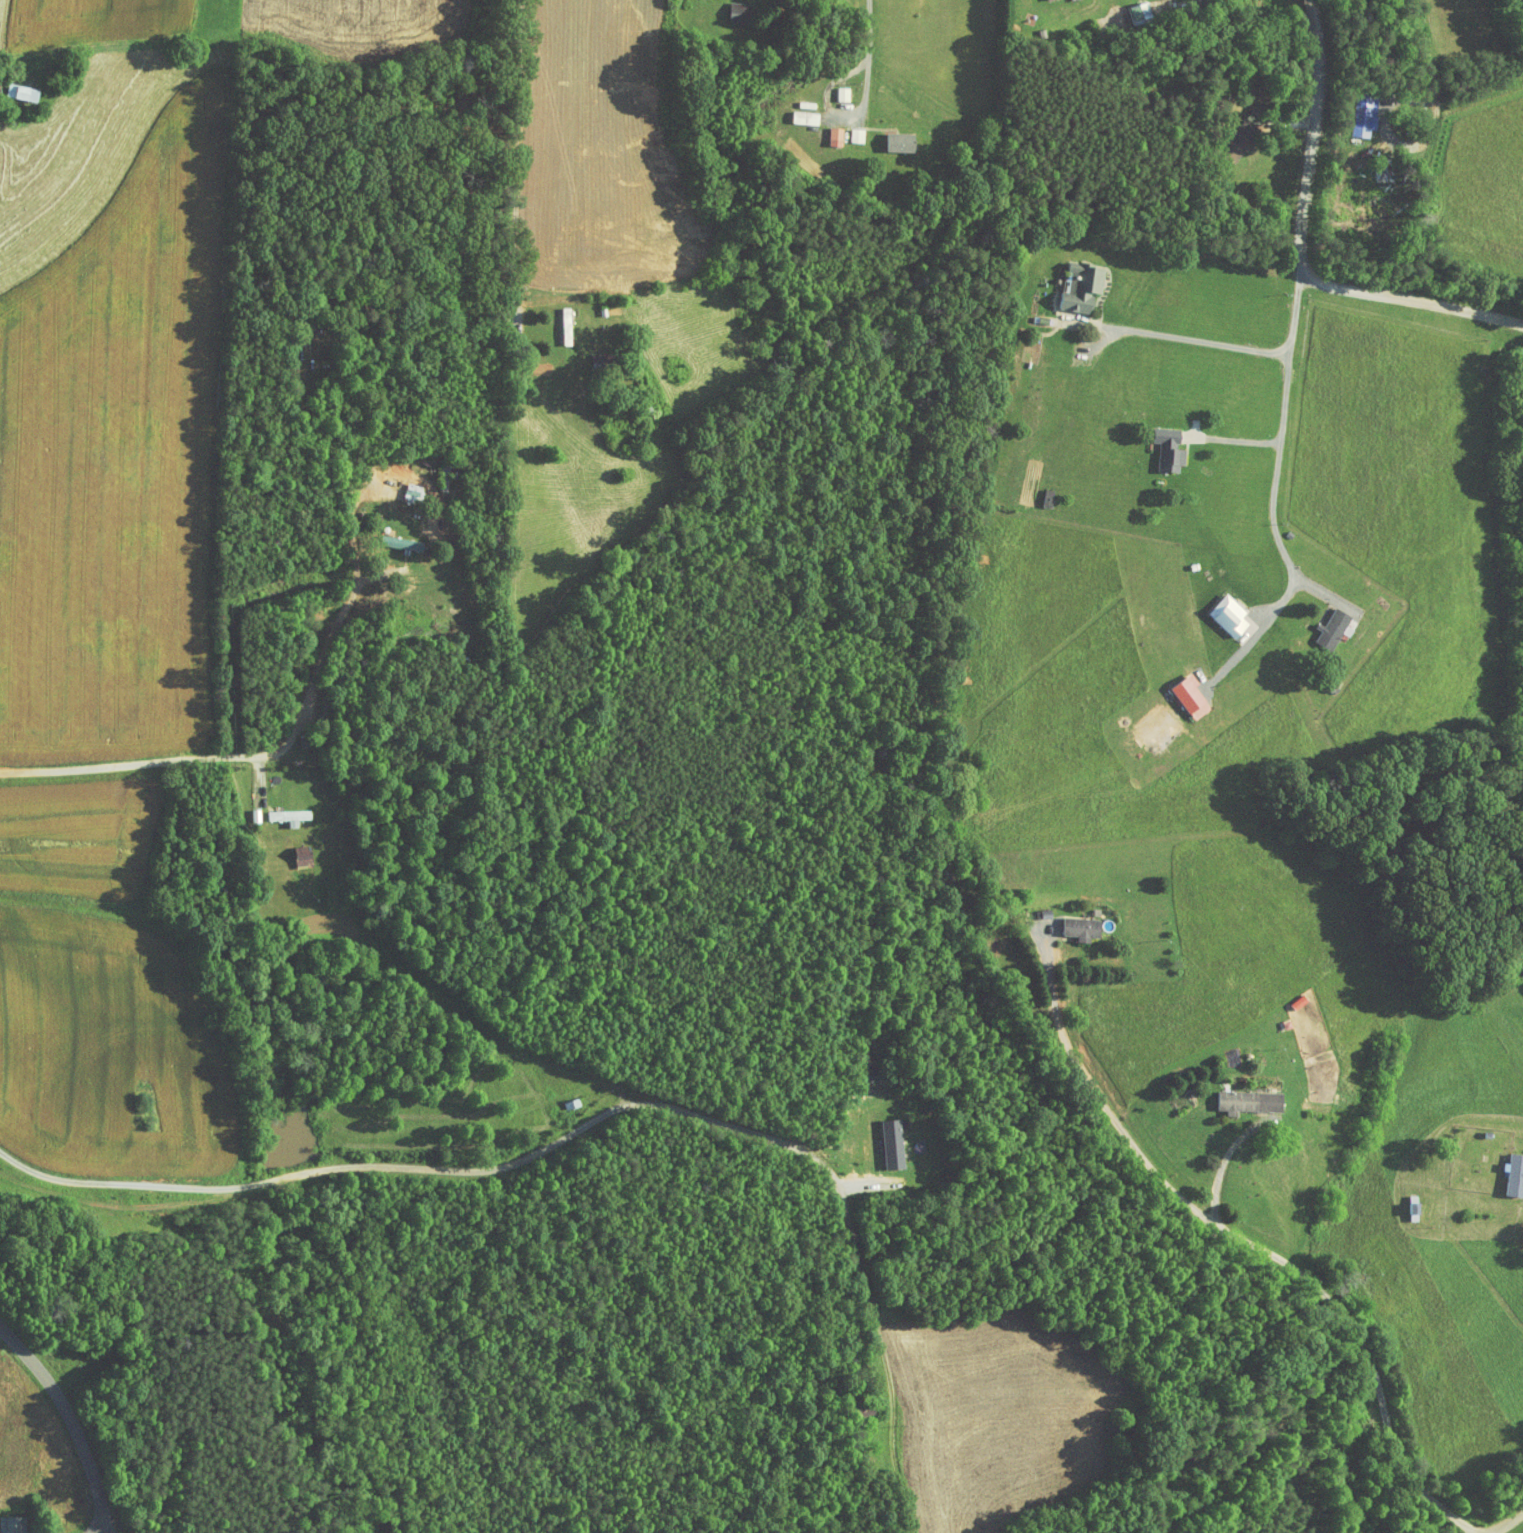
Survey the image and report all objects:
building: (1127, 7)
building: (727, 8)
road: (870, 27)
road: (1409, 39)
road: (919, 64)
building: (12, 87)
building: (829, 88)
building: (791, 112)
road: (836, 114)
building: (1348, 115)
building: (843, 129)
building: (822, 131)
building: (885, 136)
building: (1224, 136)
road: (1311, 137)
road: (554, 191)
building: (1067, 280)
road: (1411, 300)
building: (553, 320)
road: (1196, 339)
road: (1280, 434)
road: (1233, 440)
building: (1155, 442)
building: (398, 487)
building: (387, 536)
building: (1215, 608)
building: (1319, 622)
building: (1176, 690)
building: (1144, 720)
road: (260, 758)
building: (275, 809)
building: (288, 849)
building: (1068, 921)
building: (1235, 1095)
road: (589, 1123)
building: (878, 1137)
road: (1222, 1163)
building: (1503, 1168)
road: (295, 1176)
road: (129, 1184)
building: (1400, 1202)
road: (1238, 1233)
road: (73, 1420)
building: (4, 1520)
road: (1511, 1524)

